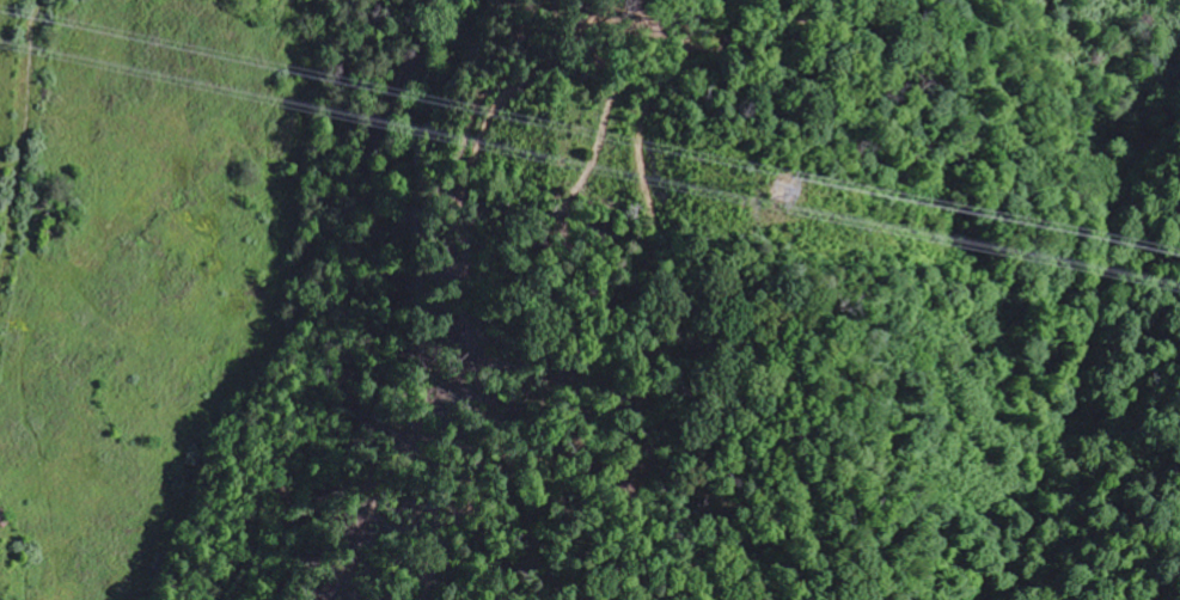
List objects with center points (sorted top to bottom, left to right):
power tower: (776, 189)

